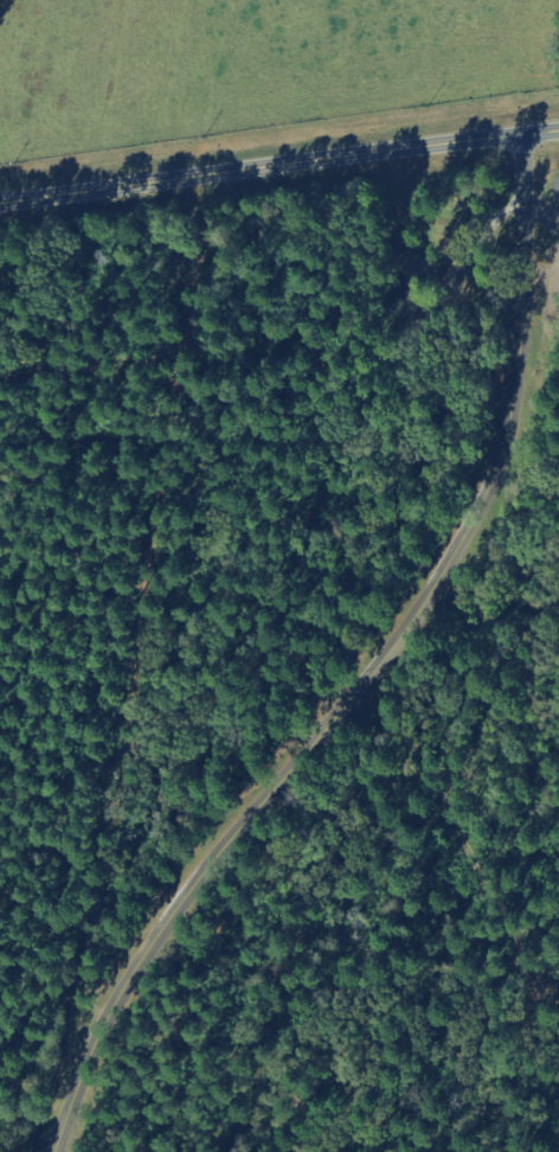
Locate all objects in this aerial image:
road: (278, 166)
road: (365, 671)

